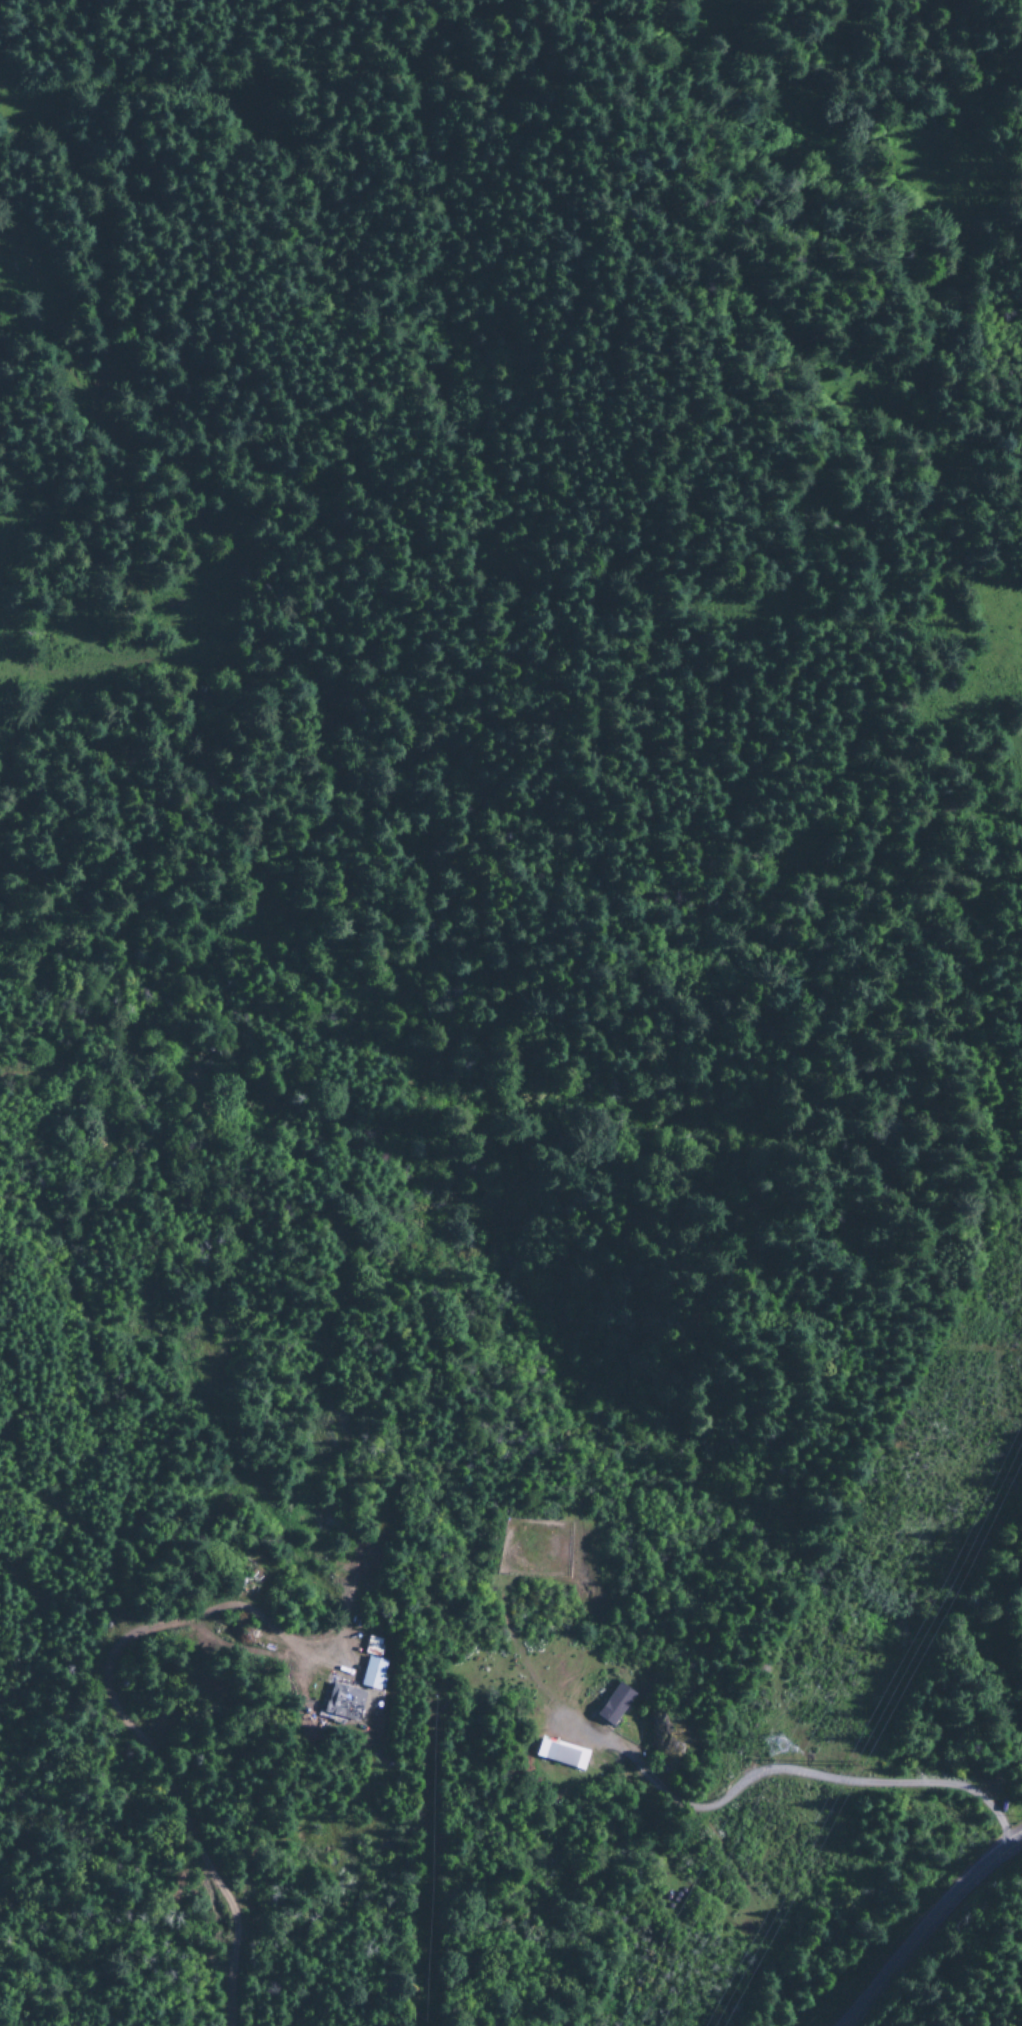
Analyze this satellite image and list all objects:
building: (373, 1646)
building: (373, 1674)
building: (342, 1703)
building: (614, 1706)
power tower: (772, 1747)
building: (561, 1755)
road: (925, 1927)

